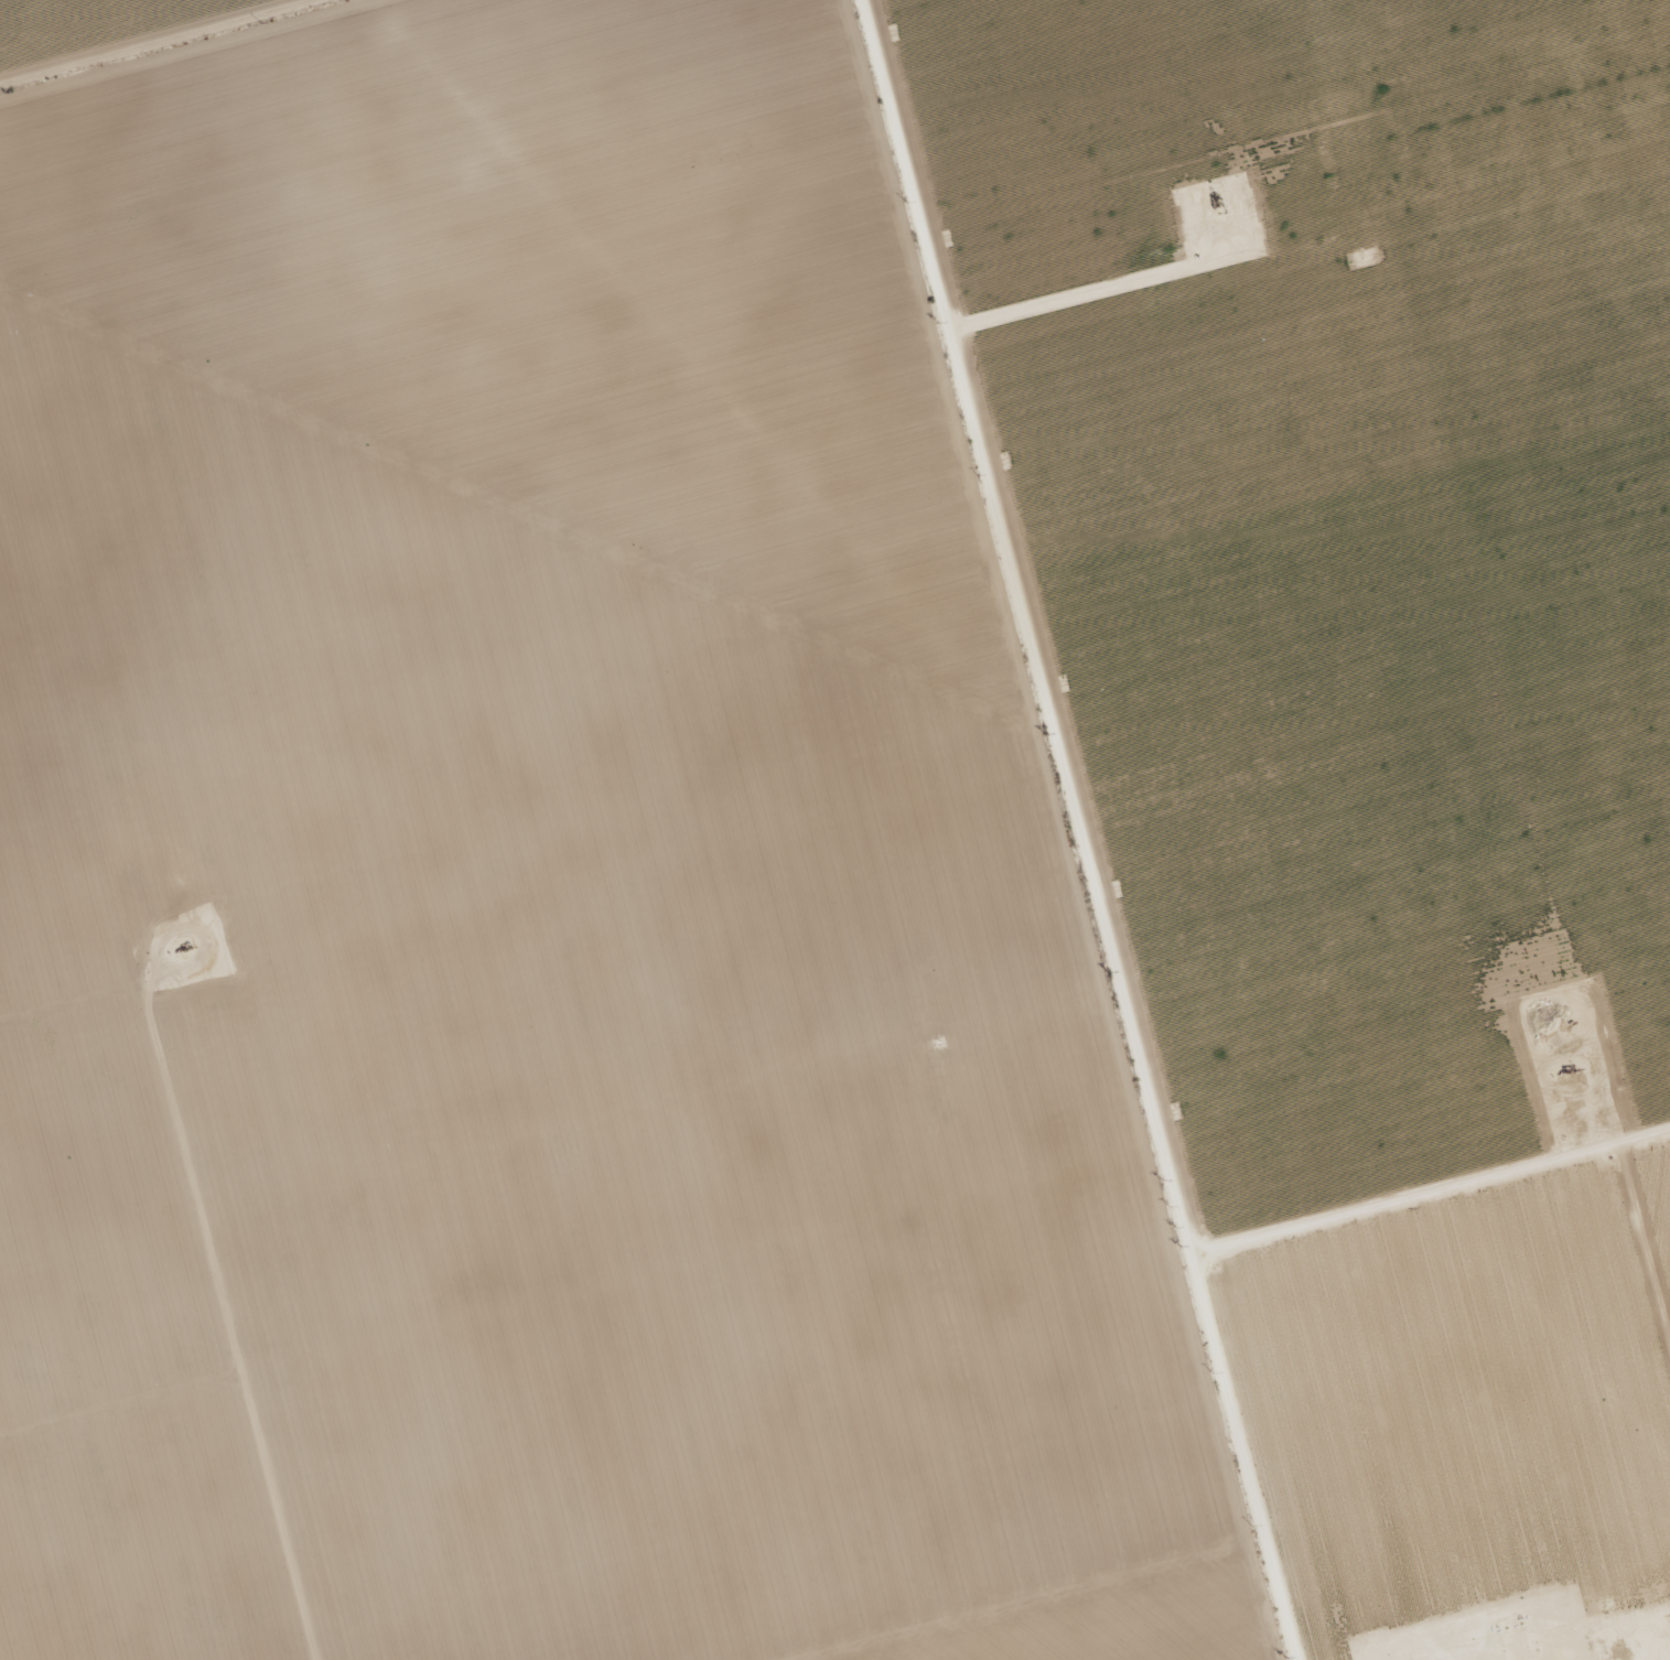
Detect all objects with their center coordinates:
road: (1649, 1140)

